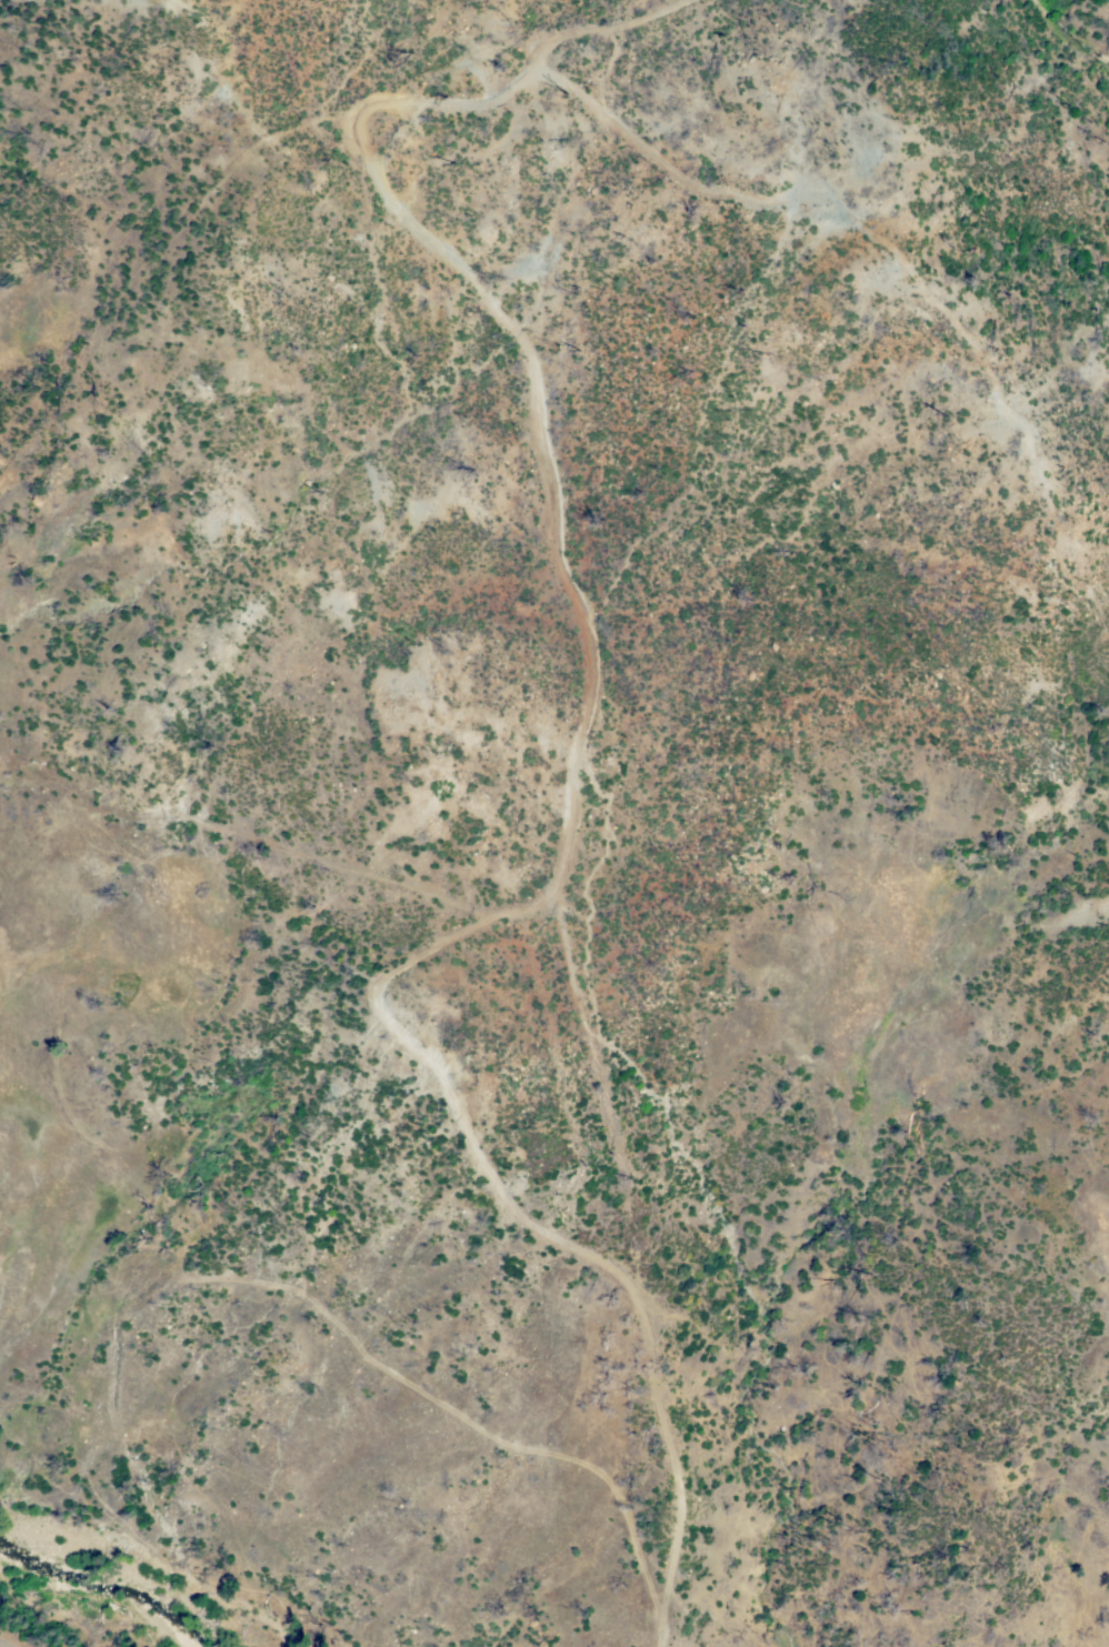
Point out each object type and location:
road: (908, 254)
road: (589, 762)
road: (0, 1646)

